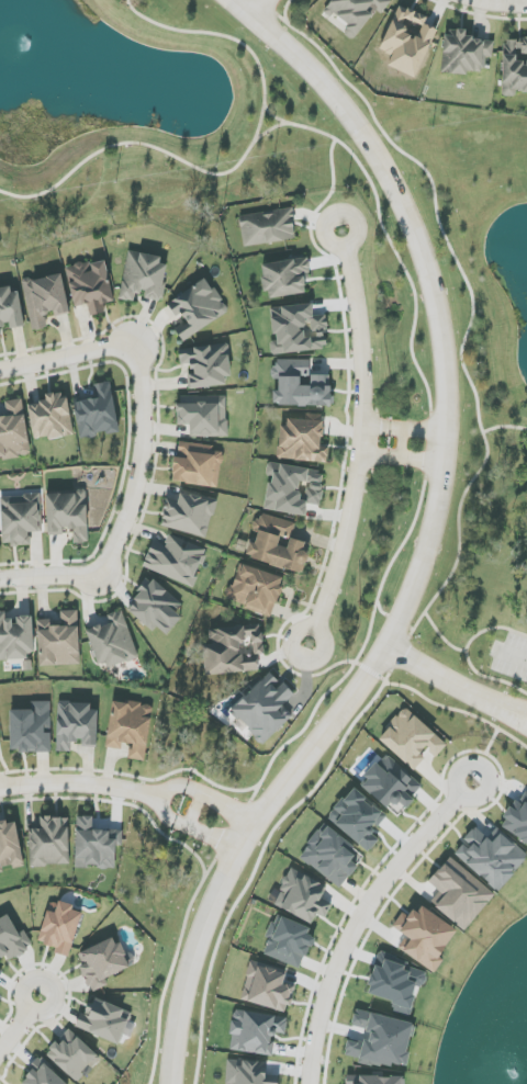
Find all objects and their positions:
road: (233, 0)
road: (505, 3)
road: (259, 8)
building: (356, 13)
road: (215, 34)
building: (407, 41)
fountain: (25, 46)
building: (464, 53)
building: (515, 67)
road: (276, 116)
road: (132, 144)
road: (333, 163)
road: (313, 219)
building: (268, 227)
road: (397, 255)
building: (144, 276)
building: (285, 278)
building: (90, 285)
building: (45, 300)
road: (473, 304)
building: (10, 308)
building: (198, 309)
building: (298, 329)
building: (0, 335)
road: (63, 359)
building: (206, 365)
building: (300, 384)
building: (98, 413)
building: (203, 415)
building: (51, 417)
road: (377, 427)
road: (504, 427)
building: (13, 430)
road: (419, 430)
building: (303, 439)
road: (360, 441)
road: (404, 443)
road: (374, 454)
road: (416, 460)
road: (142, 462)
building: (197, 464)
building: (293, 489)
building: (68, 515)
building: (189, 515)
building: (20, 519)
road: (430, 539)
building: (279, 545)
building: (176, 560)
road: (51, 576)
building: (256, 589)
building: (156, 608)
building: (16, 637)
building: (59, 641)
building: (111, 641)
building: (234, 650)
road: (466, 653)
road: (512, 655)
road: (446, 678)
building: (263, 707)
road: (517, 711)
road: (517, 718)
building: (76, 725)
building: (130, 727)
building: (31, 729)
building: (411, 738)
road: (78, 783)
building: (391, 784)
road: (171, 787)
road: (223, 803)
road: (164, 810)
road: (194, 810)
building: (359, 820)
building: (516, 821)
road: (208, 835)
building: (51, 842)
building: (10, 846)
building: (333, 857)
building: (491, 857)
building: (460, 894)
building: (304, 896)
road: (372, 917)
building: (60, 928)
building: (425, 937)
building: (12, 939)
building: (290, 942)
building: (103, 962)
building: (1, 972)
building: (267, 987)
building: (104, 1020)
road: (19, 1021)
building: (384, 1038)
building: (352, 1050)
building: (72, 1055)
building: (43, 1074)
building: (373, 1080)

